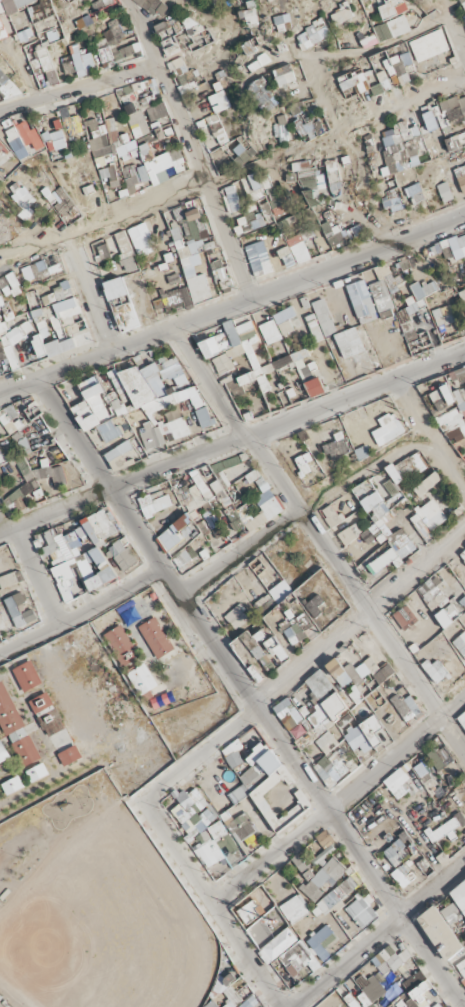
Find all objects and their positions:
road: (464, 52)
road: (340, 804)
park: (101, 925)
road: (378, 935)

